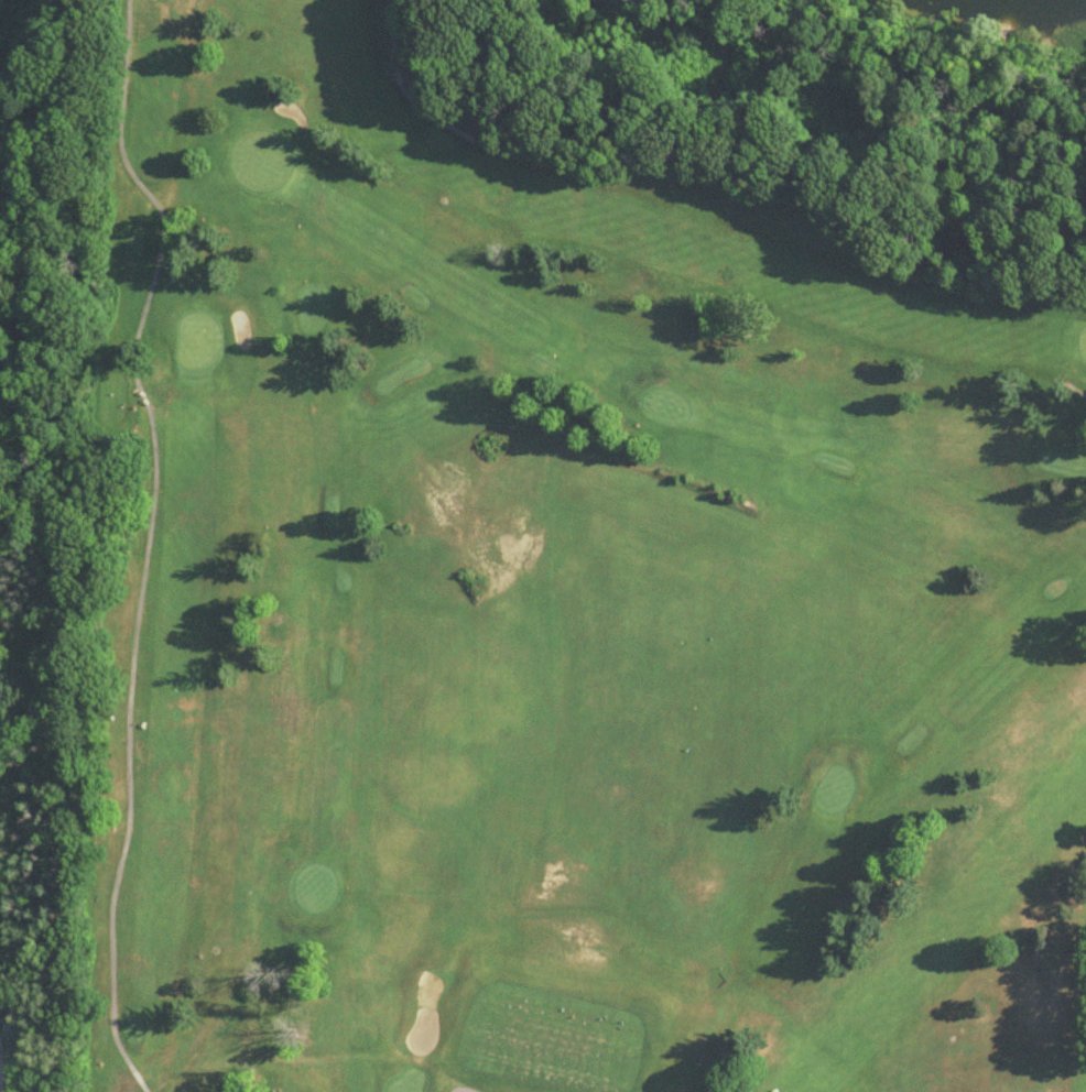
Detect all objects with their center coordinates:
park: (571, 583)
road: (272, 807)
road: (126, 1052)
road: (759, 1080)

